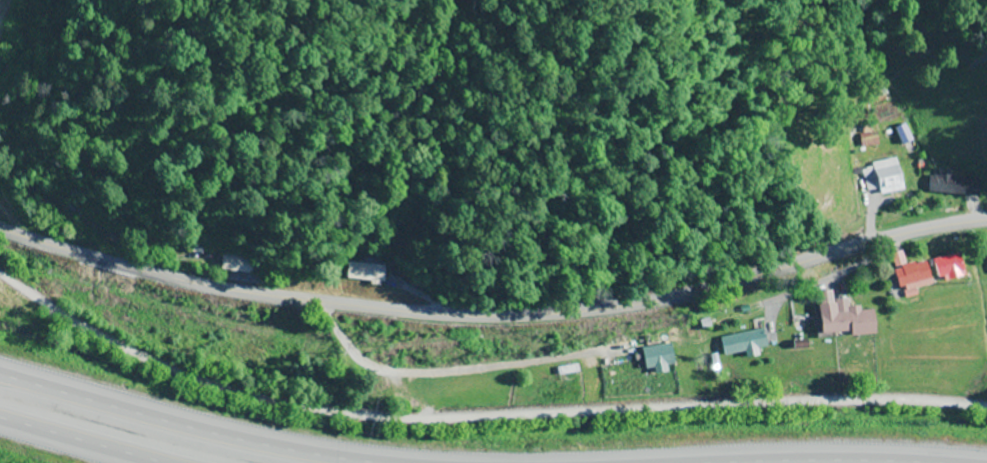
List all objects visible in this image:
building: (886, 177)
building: (955, 183)
building: (57, 206)
building: (159, 243)
building: (237, 264)
building: (949, 267)
building: (364, 273)
building: (913, 275)
building: (846, 319)
road: (494, 323)
building: (746, 343)
building: (661, 358)
road: (478, 421)
road: (160, 428)
road: (73, 442)

